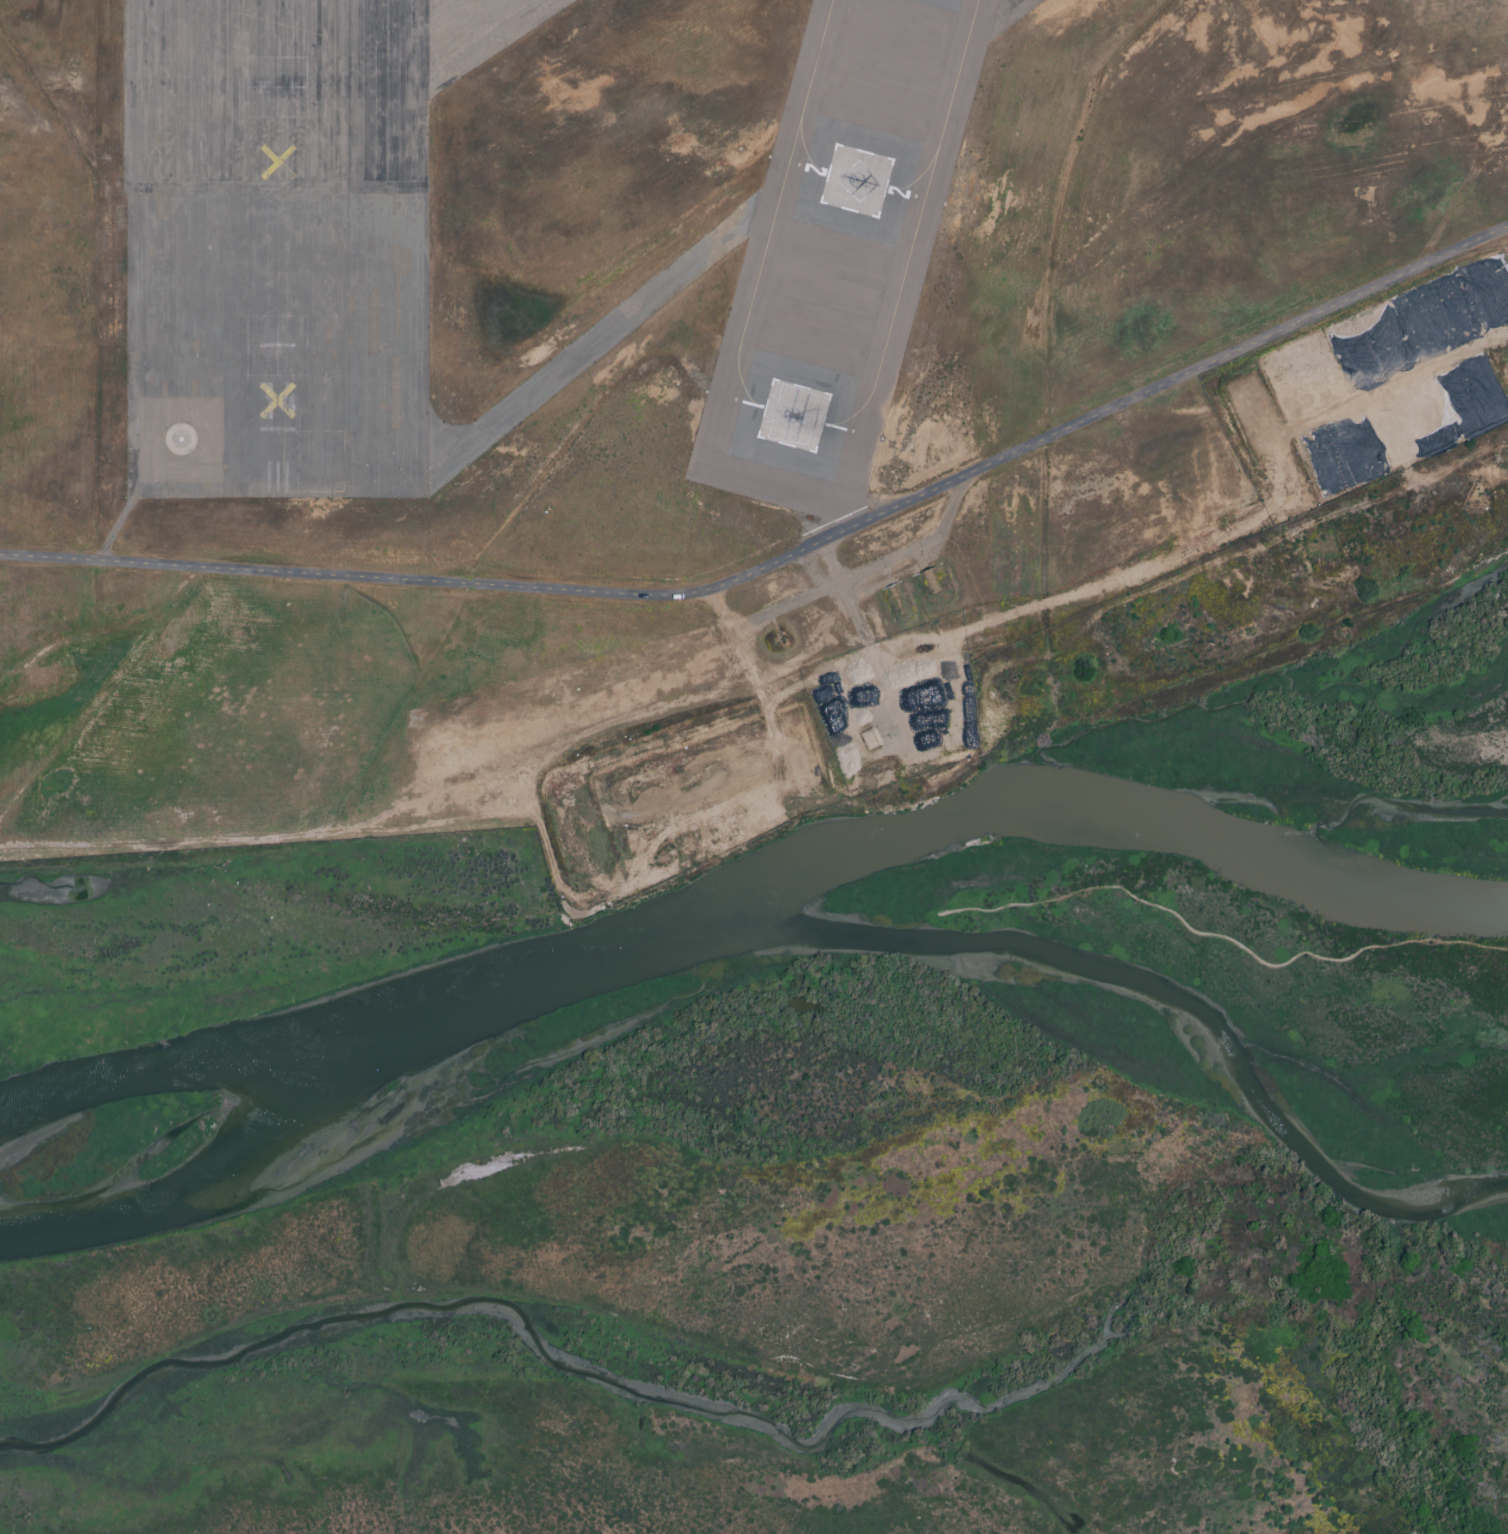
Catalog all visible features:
airport runway: (275, 9)
airport taxiway: (289, 9)
airport taxiway: (988, 13)
airport taxiway: (802, 155)
airport taxiway: (914, 178)
helipad: (856, 183)
airport taxiway: (772, 210)
airport taxiway: (914, 226)
airport runway: (277, 251)
airport taxiway: (541, 378)
airport: (675, 383)
helipad: (793, 418)
road: (786, 559)
road: (872, 565)
road: (864, 646)
road: (745, 667)
road: (386, 818)
river: (1126, 819)
river: (795, 922)
road: (1218, 934)

